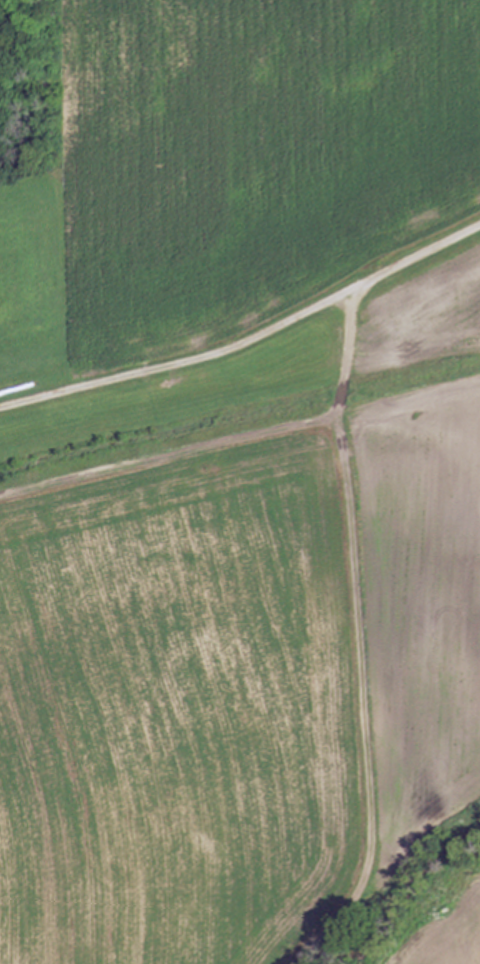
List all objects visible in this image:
road: (248, 339)
crop: (243, 488)
road: (358, 704)

